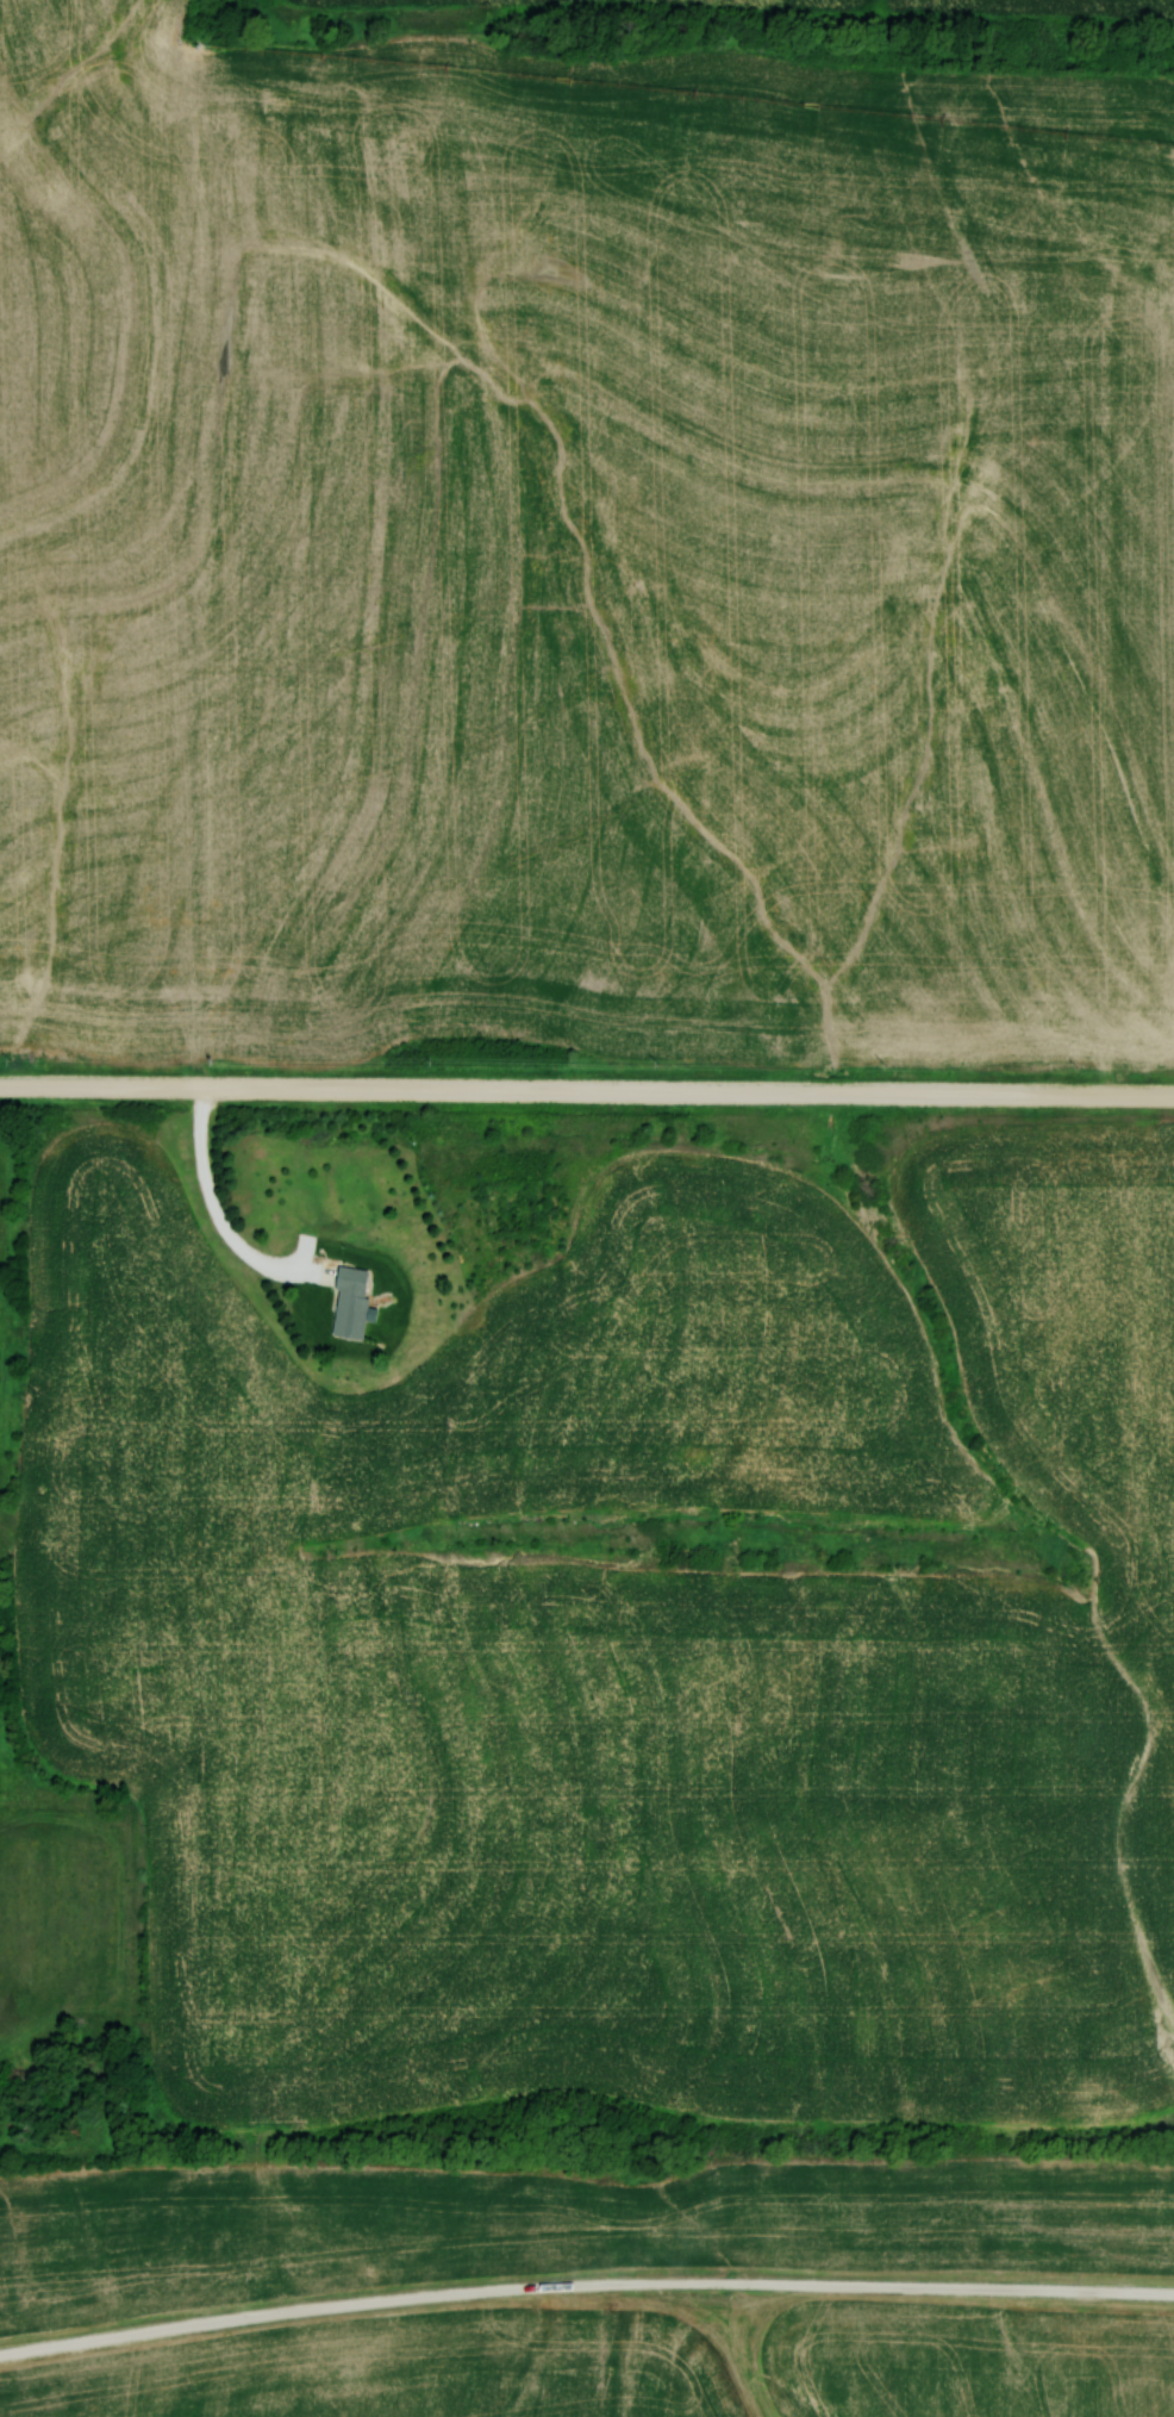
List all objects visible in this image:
road: (587, 1090)
building: (346, 1301)
road: (585, 2286)

